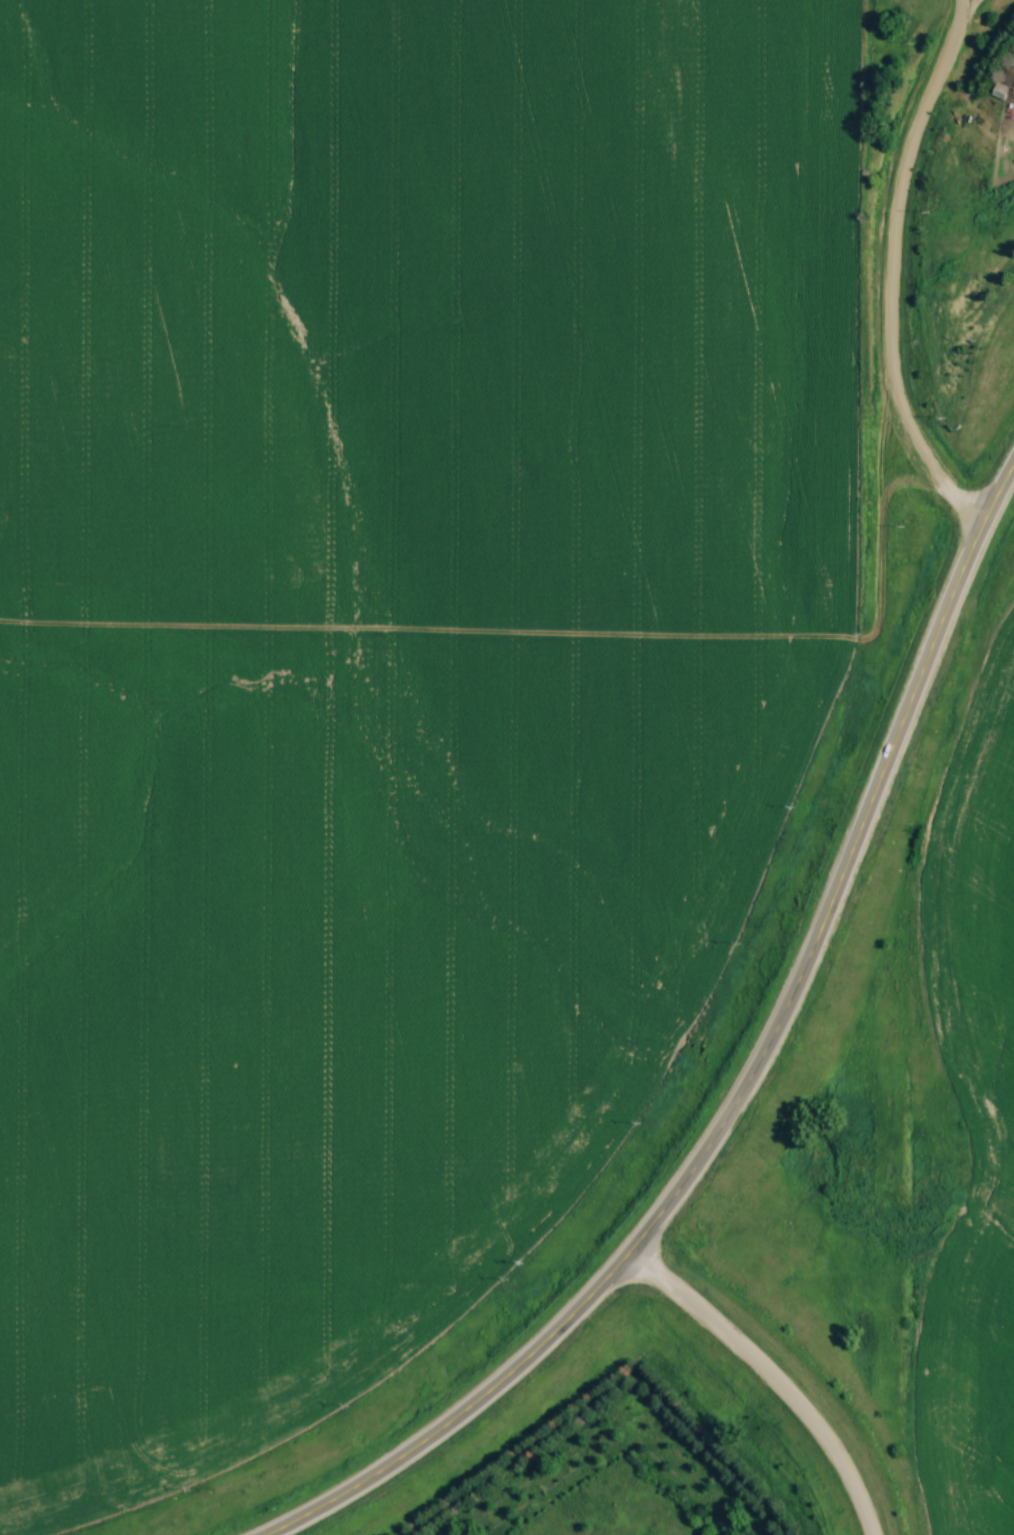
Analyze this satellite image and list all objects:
road: (977, 15)
building: (1001, 91)
road: (891, 274)
road: (742, 1075)
road: (767, 1380)

